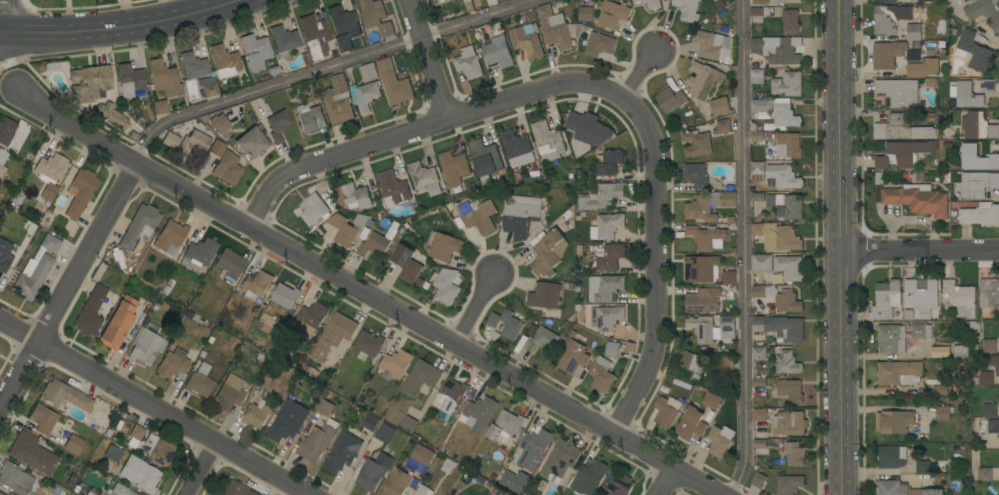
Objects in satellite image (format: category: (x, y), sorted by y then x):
building: (788, 1)
building: (927, 1)
building: (889, 2)
building: (650, 4)
building: (468, 6)
building: (687, 9)
road: (1, 11)
building: (761, 11)
building: (984, 11)
building: (586, 14)
building: (613, 14)
building: (375, 16)
building: (886, 18)
building: (791, 22)
building: (343, 27)
building: (554, 29)
road: (120, 31)
building: (913, 32)
building: (314, 35)
building: (527, 40)
building: (283, 42)
building: (599, 44)
building: (714, 44)
building: (777, 49)
building: (255, 52)
building: (498, 52)
building: (974, 52)
building: (887, 54)
road: (423, 59)
building: (224, 61)
building: (468, 63)
road: (8, 65)
building: (385, 65)
building: (193, 66)
road: (325, 68)
building: (915, 70)
building: (369, 72)
road: (636, 74)
building: (757, 76)
building: (164, 78)
building: (129, 80)
building: (703, 80)
building: (92, 81)
building: (788, 84)
building: (985, 85)
building: (207, 86)
building: (399, 87)
building: (898, 91)
building: (365, 95)
building: (967, 95)
building: (670, 99)
building: (338, 100)
building: (761, 105)
building: (720, 106)
building: (159, 107)
building: (785, 113)
building: (110, 114)
building: (310, 118)
building: (218, 123)
building: (277, 125)
road: (418, 126)
building: (723, 126)
building: (978, 126)
building: (901, 128)
building: (586, 130)
building: (6, 131)
building: (756, 133)
building: (169, 140)
building: (548, 141)
building: (195, 142)
building: (251, 143)
building: (696, 143)
building: (789, 145)
building: (217, 148)
building: (517, 149)
building: (909, 151)
building: (977, 158)
building: (485, 160)
building: (2, 161)
building: (882, 162)
building: (609, 163)
building: (227, 168)
building: (453, 168)
building: (757, 171)
building: (783, 174)
building: (49, 175)
building: (696, 176)
building: (533, 177)
building: (424, 178)
building: (978, 184)
building: (393, 189)
building: (79, 192)
building: (601, 196)
building: (353, 197)
building: (918, 199)
building: (708, 205)
building: (785, 205)
building: (314, 209)
building: (521, 214)
building: (477, 215)
building: (981, 215)
building: (606, 226)
building: (139, 228)
building: (346, 228)
building: (777, 236)
building: (707, 237)
building: (169, 238)
building: (50, 244)
building: (374, 245)
building: (443, 246)
road: (738, 247)
road: (840, 247)
road: (920, 249)
building: (549, 253)
building: (198, 254)
building: (4, 255)
building: (608, 256)
building: (230, 262)
building: (761, 262)
building: (406, 263)
road: (653, 267)
building: (789, 267)
building: (701, 269)
building: (729, 277)
building: (32, 278)
road: (65, 285)
building: (255, 285)
building: (447, 286)
building: (607, 288)
building: (988, 293)
building: (545, 295)
building: (285, 296)
building: (778, 296)
building: (923, 296)
road: (363, 297)
building: (961, 298)
building: (886, 299)
building: (702, 300)
road: (469, 309)
building: (90, 311)
building: (907, 314)
building: (311, 317)
building: (606, 317)
building: (117, 323)
building: (506, 324)
building: (726, 326)
building: (974, 326)
building: (701, 328)
building: (333, 335)
building: (790, 336)
building: (900, 336)
building: (541, 339)
building: (145, 344)
building: (368, 345)
building: (988, 346)
building: (612, 349)
building: (961, 352)
building: (574, 358)
building: (994, 362)
building: (172, 363)
building: (787, 363)
building: (395, 365)
building: (694, 365)
building: (725, 366)
building: (898, 372)
building: (602, 375)
building: (959, 375)
building: (421, 378)
building: (986, 378)
building: (199, 381)
building: (758, 382)
building: (940, 389)
building: (789, 392)
building: (228, 393)
building: (64, 396)
building: (449, 398)
building: (712, 400)
building: (324, 407)
road: (152, 409)
building: (989, 410)
building: (666, 411)
building: (944, 412)
building: (479, 413)
building: (256, 414)
building: (759, 415)
building: (42, 419)
building: (894, 421)
building: (370, 422)
building: (789, 423)
building: (408, 424)
building: (691, 424)
building: (505, 426)
building: (988, 426)
building: (284, 429)
building: (385, 433)
building: (133, 436)
building: (317, 441)
building: (718, 443)
building: (759, 443)
building: (73, 445)
building: (534, 448)
building: (159, 451)
building: (342, 452)
building: (32, 453)
building: (112, 453)
building: (794, 453)
building: (422, 455)
building: (891, 456)
building: (560, 461)
building: (448, 466)
building: (923, 467)
road: (198, 469)
building: (373, 471)
building: (139, 474)
building: (984, 474)
building: (590, 477)
building: (15, 478)
building: (758, 480)
building: (515, 481)
road: (662, 482)
building: (397, 483)
building: (620, 484)
building: (789, 484)
building: (235, 489)
building: (903, 489)
building: (120, 490)
building: (423, 491)
building: (1, 494)

